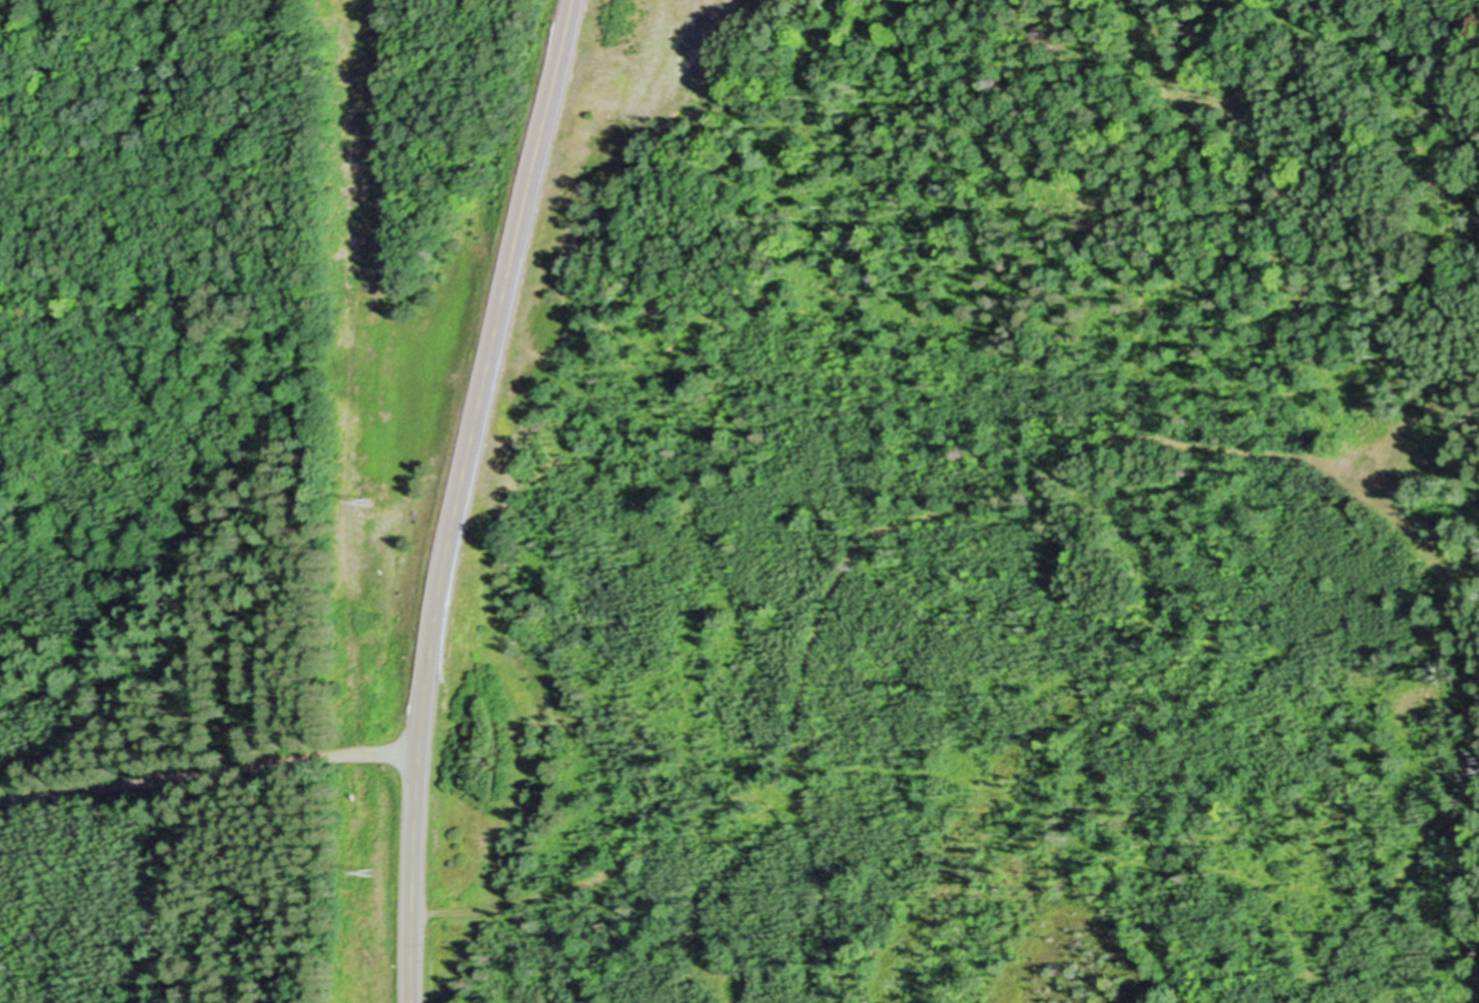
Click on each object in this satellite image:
road: (662, 51)
road: (464, 497)
road: (901, 522)
road: (210, 770)
road: (1451, 805)
road: (1347, 934)

